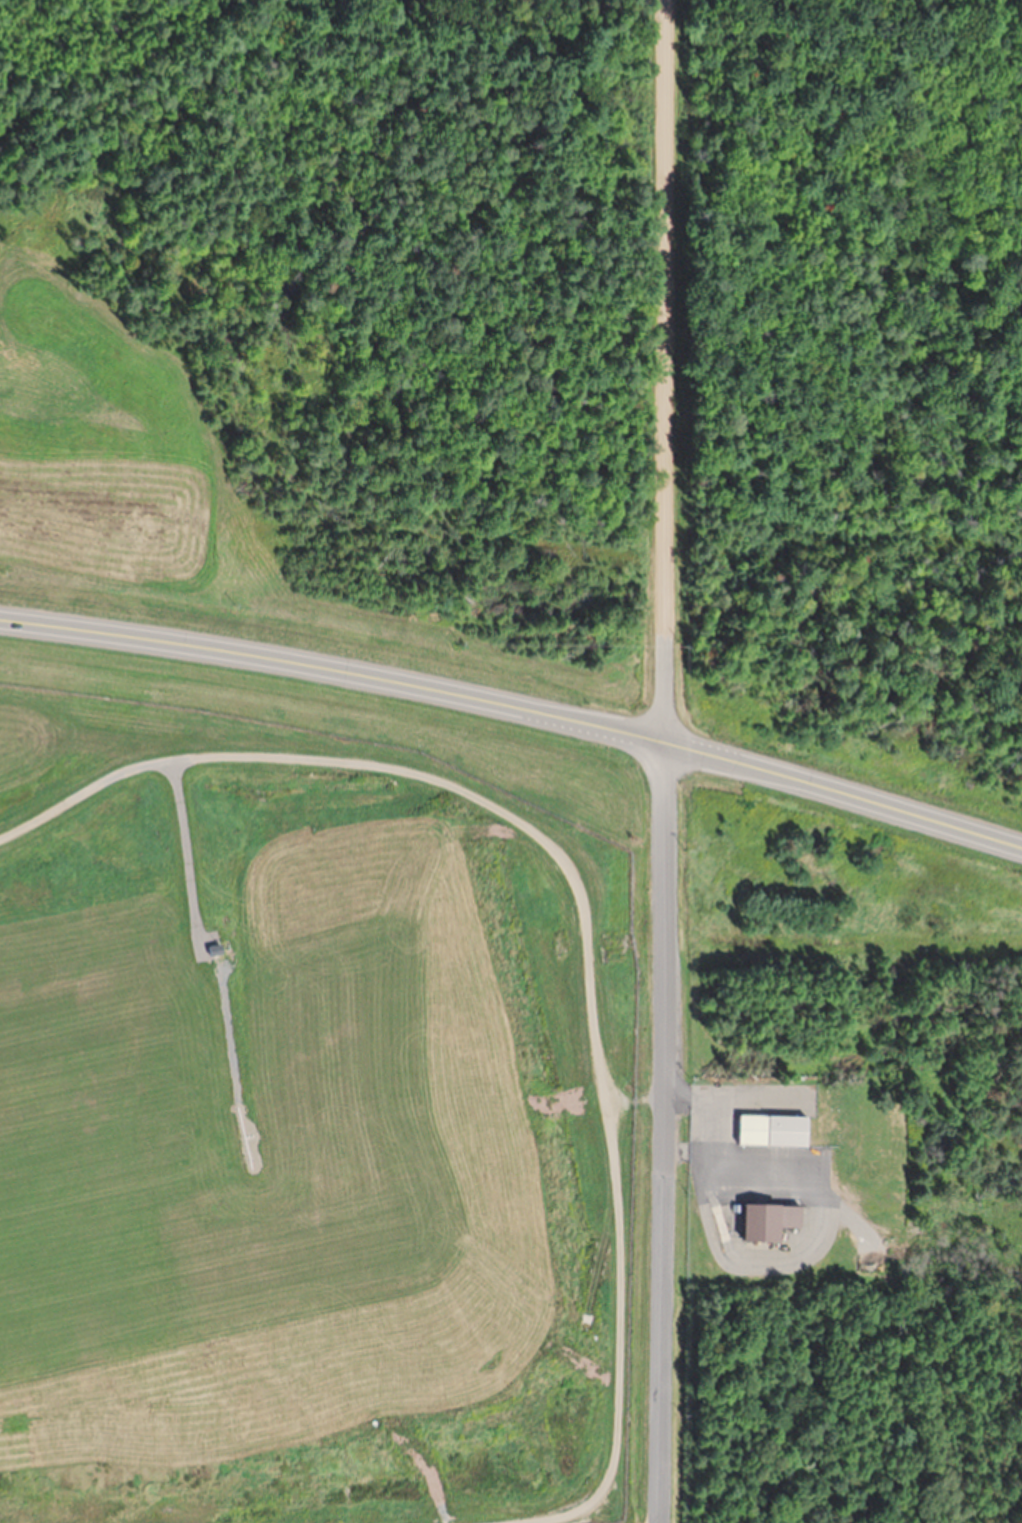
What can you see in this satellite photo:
road: (664, 369)
road: (517, 707)
airport: (511, 761)
building: (211, 950)
road: (667, 1130)
building: (775, 1132)
building: (772, 1220)

